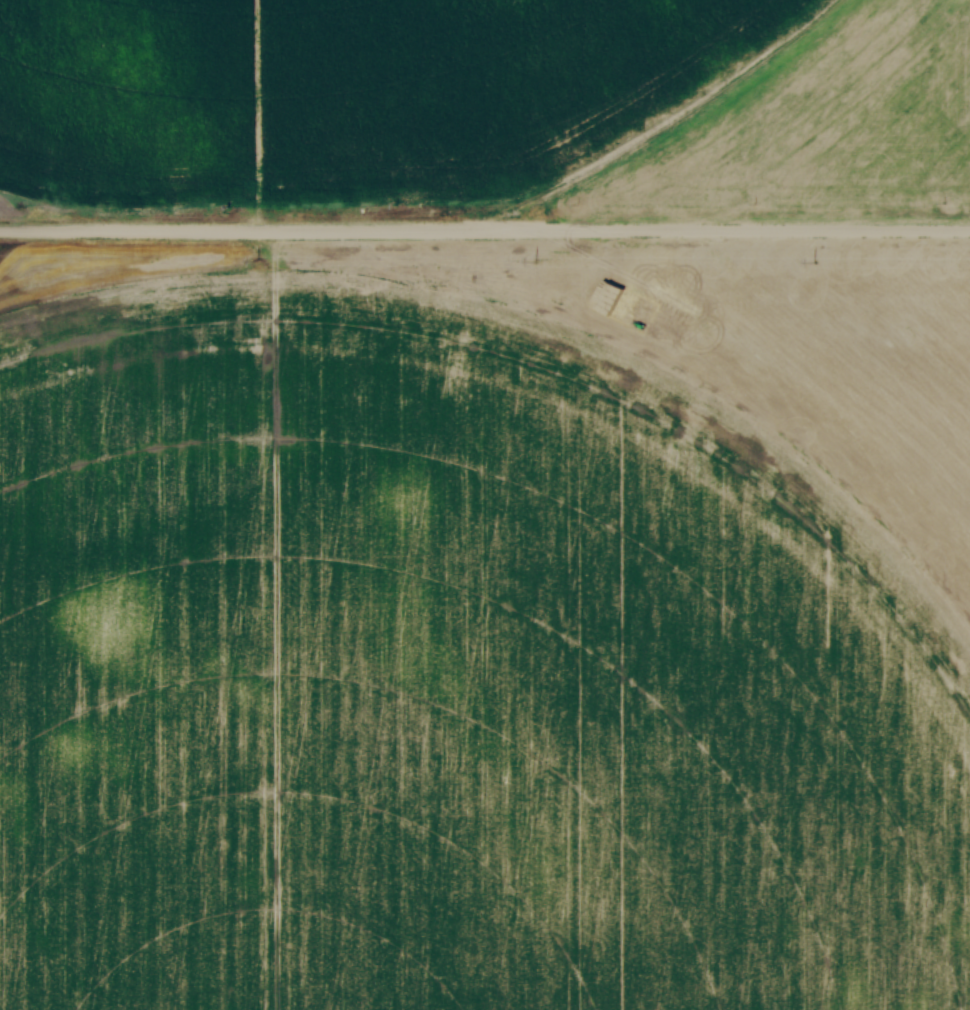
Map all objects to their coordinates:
crop: (346, 92)
road: (485, 232)
crop: (487, 632)

